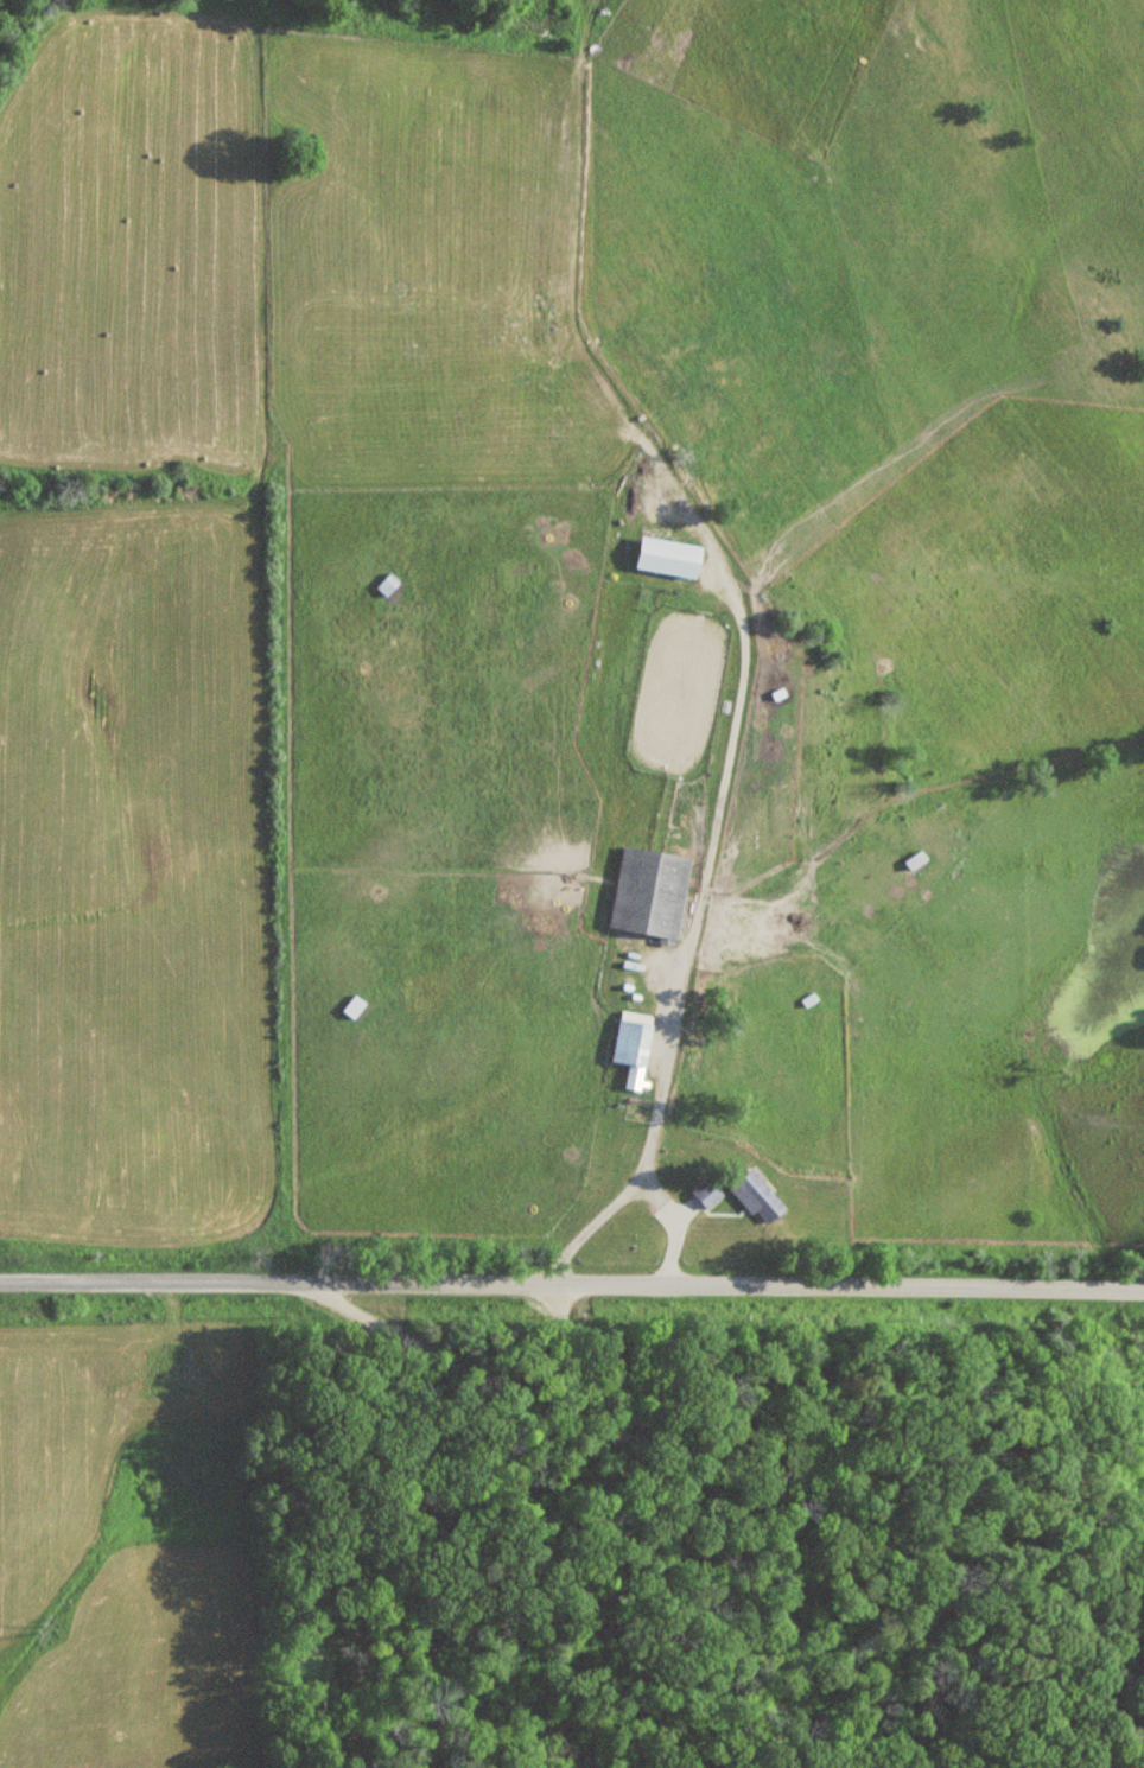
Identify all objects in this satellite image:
building: (667, 555)
building: (388, 584)
building: (917, 860)
building: (650, 892)
building: (352, 1006)
building: (631, 1043)
building: (707, 1193)
building: (758, 1197)
road: (572, 1280)
road: (717, 1448)

